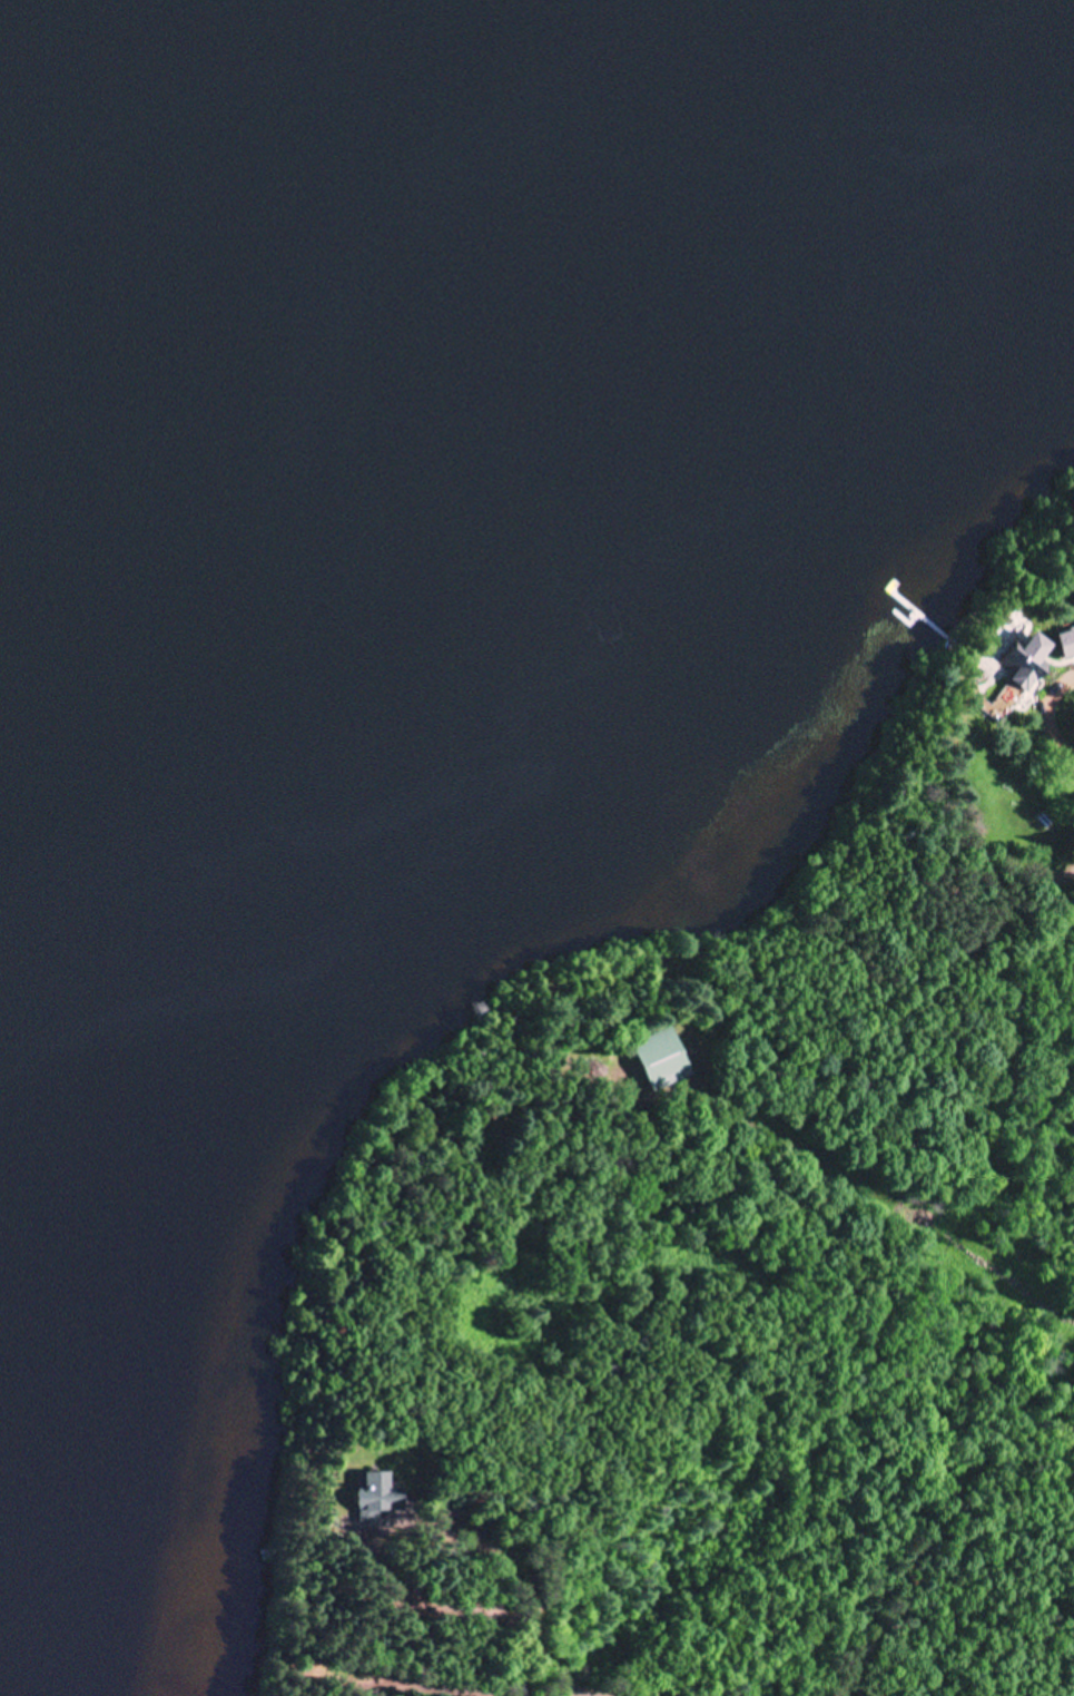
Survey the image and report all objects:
building: (1068, 644)
building: (1031, 671)
road: (864, 927)
building: (661, 1060)
road: (484, 1555)
road: (748, 1686)

